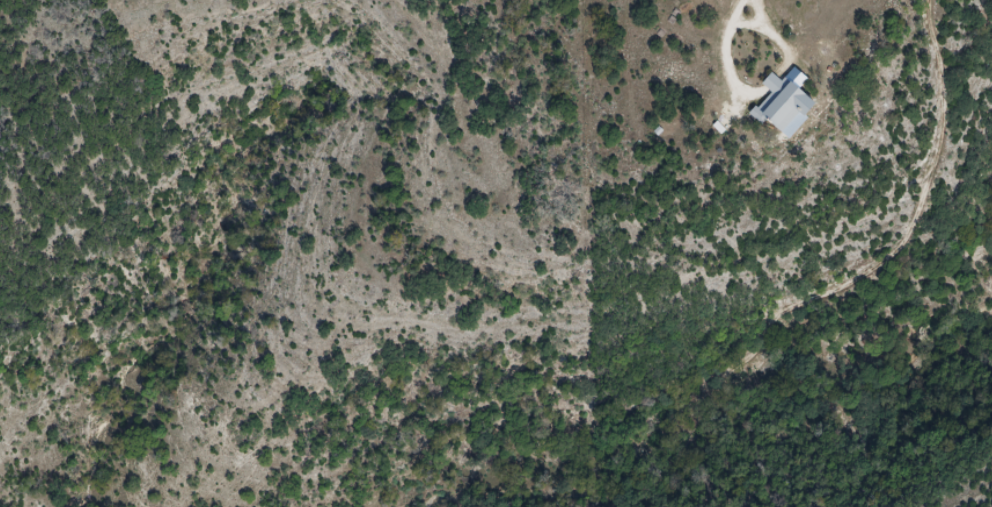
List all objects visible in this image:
road: (729, 24)
building: (785, 105)

